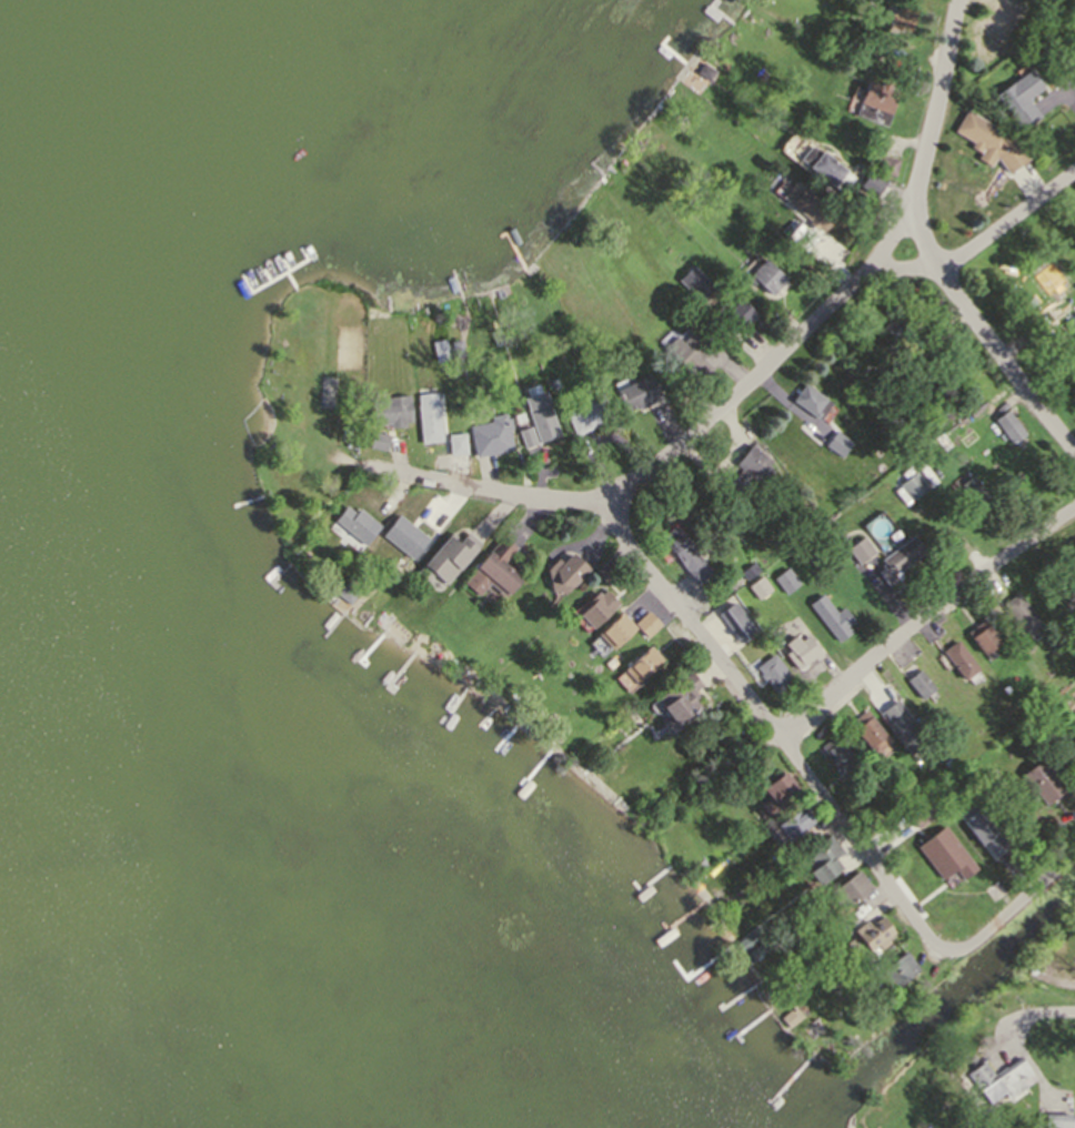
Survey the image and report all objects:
building: (1035, 2)
building: (902, 20)
building: (992, 36)
building: (1073, 71)
building: (703, 72)
building: (1017, 99)
building: (874, 103)
building: (978, 133)
building: (880, 164)
building: (824, 167)
building: (867, 182)
building: (807, 205)
building: (802, 238)
road: (983, 242)
building: (762, 274)
building: (1048, 279)
building: (695, 282)
road: (854, 292)
building: (734, 313)
building: (1069, 323)
road: (988, 330)
building: (897, 331)
building: (494, 334)
building: (455, 346)
building: (439, 350)
building: (690, 353)
building: (553, 383)
building: (639, 393)
building: (938, 395)
building: (807, 400)
building: (391, 410)
building: (586, 413)
building: (540, 415)
building: (428, 416)
building: (1005, 424)
building: (491, 435)
building: (526, 435)
building: (965, 436)
building: (378, 440)
building: (456, 443)
building: (836, 443)
building: (958, 456)
building: (746, 469)
building: (911, 485)
building: (973, 496)
building: (354, 523)
building: (402, 535)
building: (857, 550)
building: (681, 554)
building: (449, 555)
building: (897, 558)
building: (604, 570)
building: (747, 571)
building: (495, 573)
building: (563, 573)
building: (783, 580)
building: (325, 583)
building: (756, 587)
building: (346, 592)
building: (595, 607)
building: (1019, 612)
building: (830, 616)
building: (733, 620)
building: (645, 623)
road: (700, 627)
road: (925, 628)
building: (612, 631)
building: (984, 639)
building: (797, 649)
building: (960, 661)
building: (611, 662)
building: (635, 668)
building: (771, 673)
building: (918, 684)
building: (679, 696)
building: (625, 723)
building: (1035, 723)
building: (901, 726)
building: (867, 731)
building: (951, 742)
building: (836, 755)
building: (1071, 755)
building: (752, 773)
building: (1043, 780)
building: (992, 782)
building: (914, 787)
building: (777, 793)
building: (921, 813)
building: (793, 822)
building: (983, 832)
building: (821, 849)
building: (943, 854)
building: (848, 889)
road: (1009, 913)
building: (874, 933)
building: (752, 950)
building: (895, 970)
road: (1058, 1008)
building: (788, 1016)
building: (816, 1026)
building: (998, 1077)
building: (1056, 1120)

